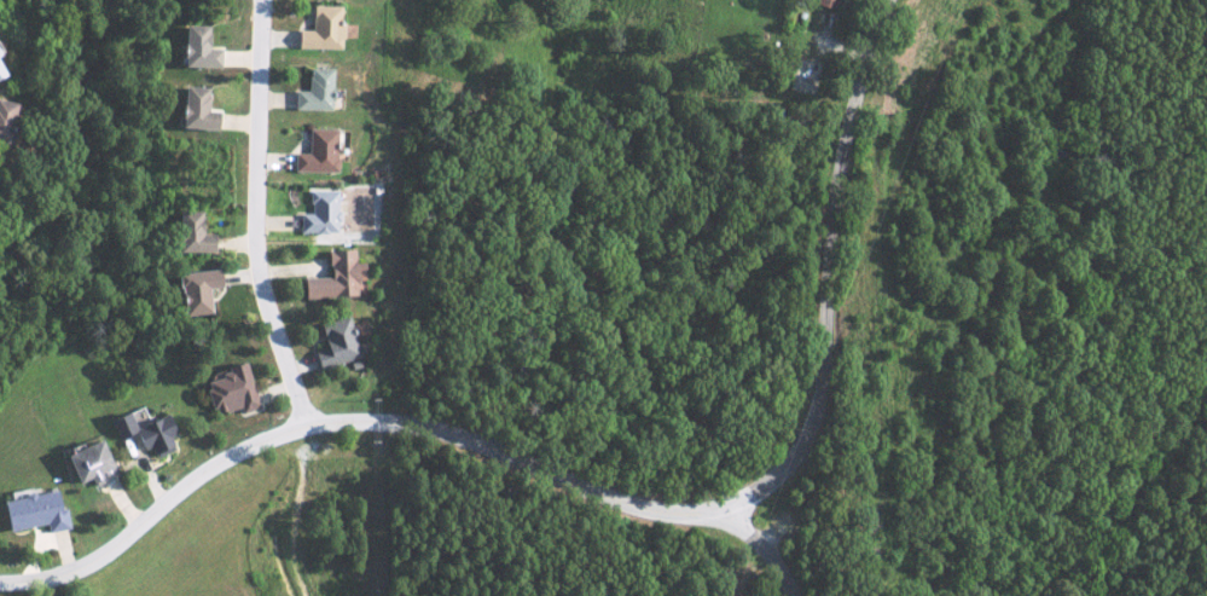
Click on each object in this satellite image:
building: (823, 2)
building: (319, 29)
building: (195, 47)
building: (0, 75)
building: (312, 91)
building: (192, 109)
building: (2, 117)
building: (315, 151)
building: (319, 213)
road: (254, 219)
building: (191, 233)
building: (333, 277)
building: (195, 290)
building: (335, 343)
building: (228, 390)
building: (143, 432)
building: (86, 464)
road: (611, 500)
building: (33, 511)
road: (750, 534)

